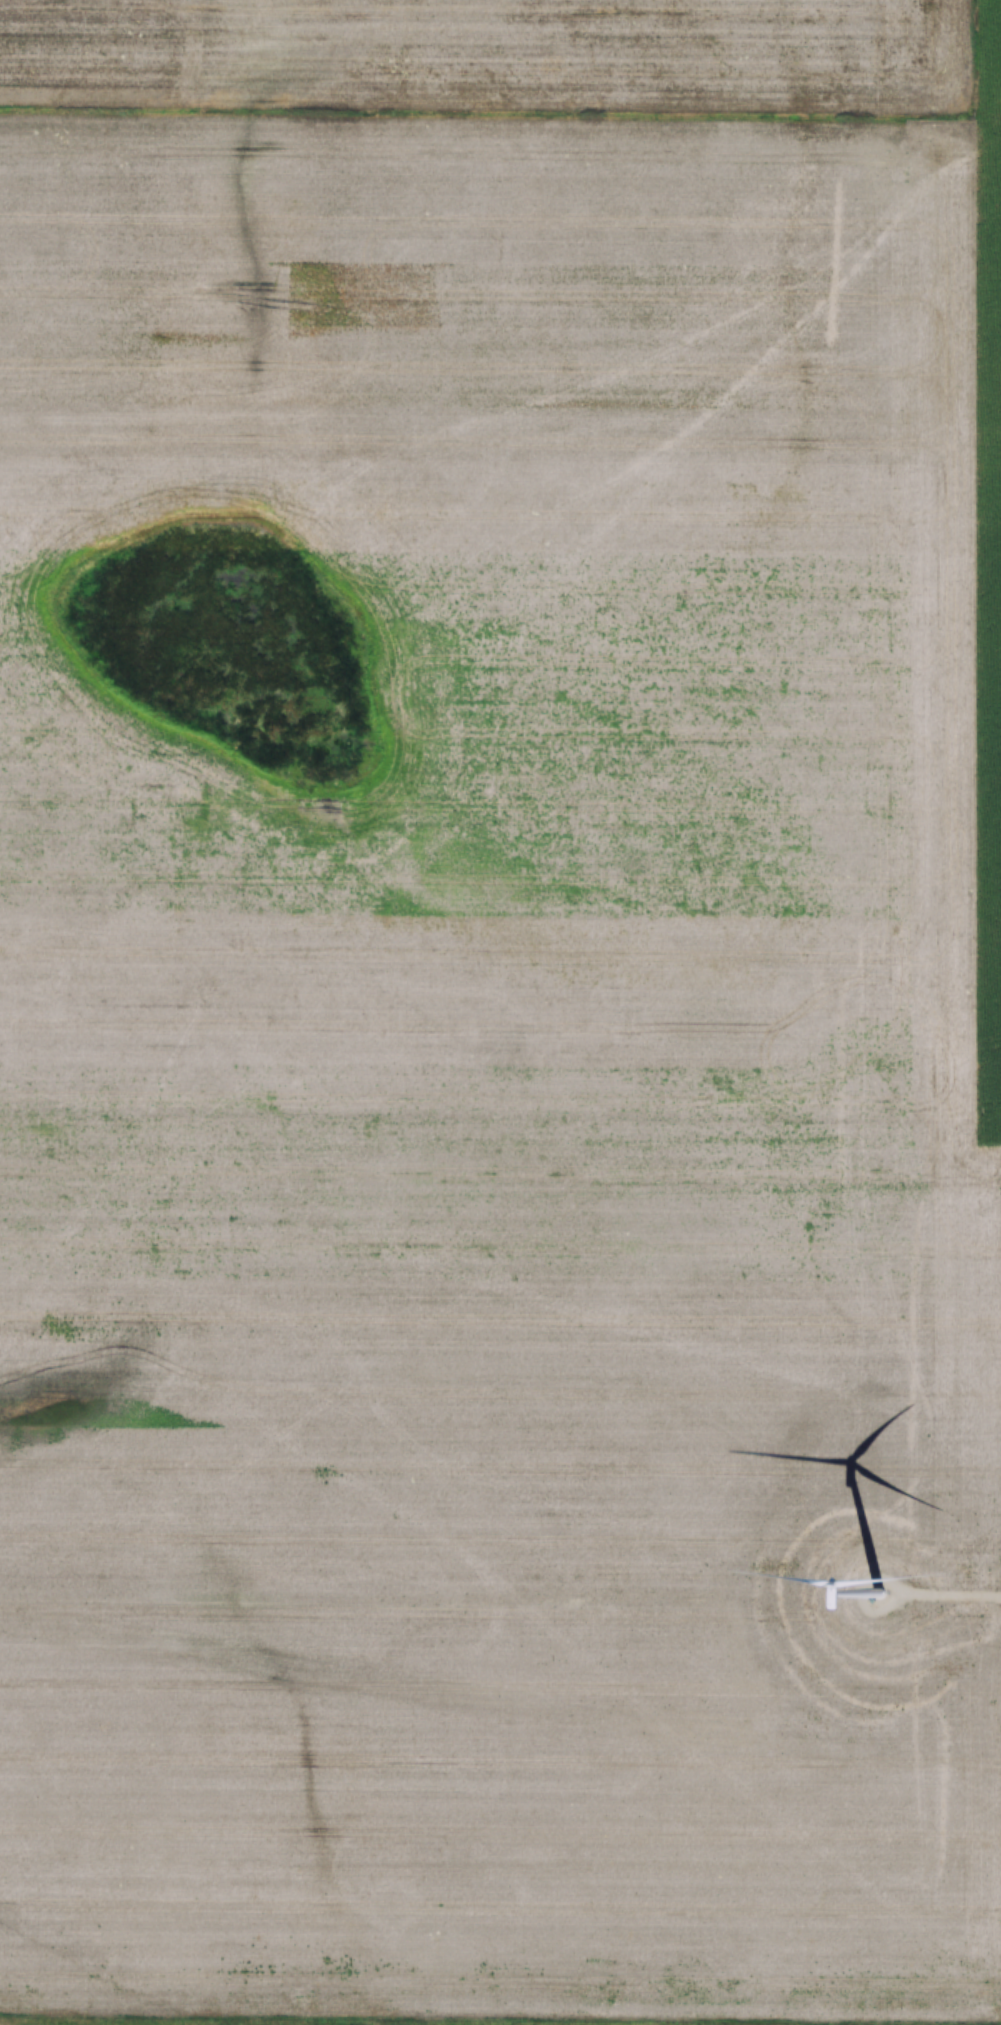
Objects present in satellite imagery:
wind turbine: (883, 1596)
road: (960, 1596)

